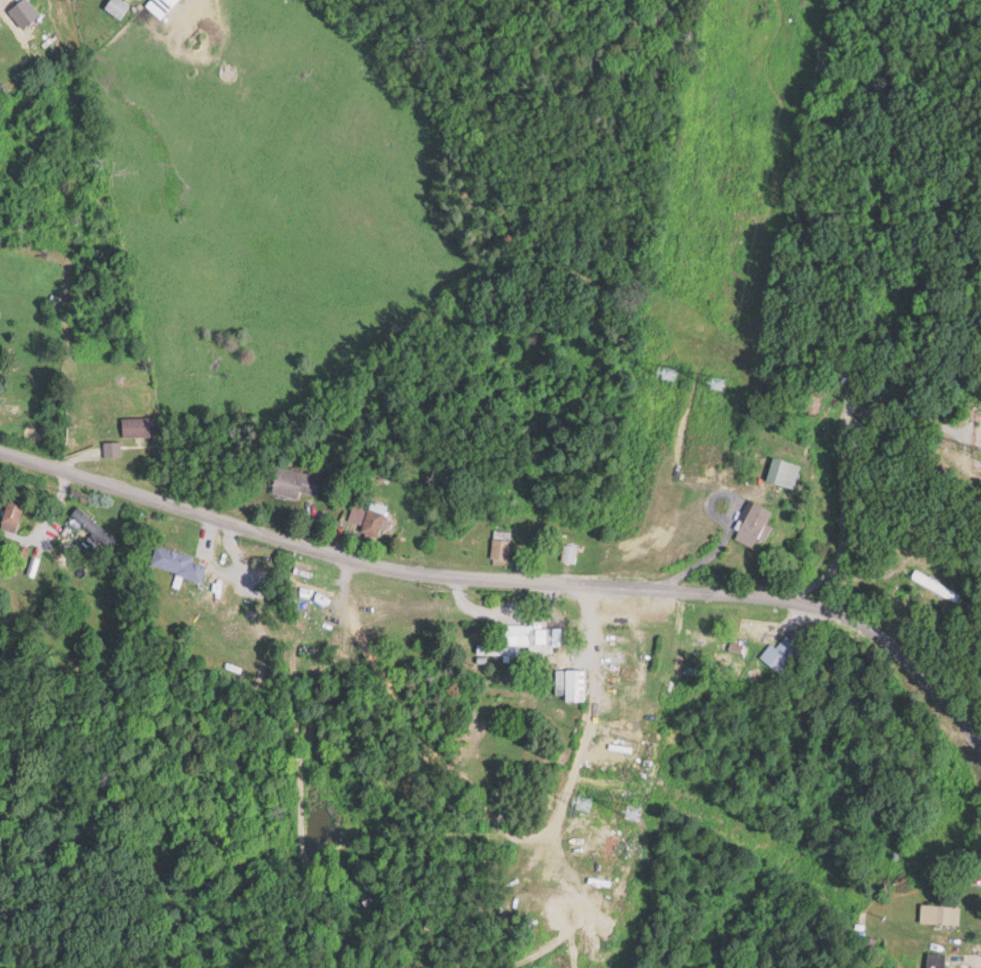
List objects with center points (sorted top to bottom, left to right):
building: (117, 7)
power tower: (674, 373)
power tower: (727, 390)
building: (137, 427)
building: (784, 473)
building: (295, 483)
building: (13, 512)
building: (365, 521)
building: (753, 525)
building: (93, 527)
building: (501, 547)
building: (569, 554)
building: (178, 562)
road: (511, 581)
building: (936, 586)
building: (544, 639)
building: (497, 649)
building: (783, 654)
building: (571, 680)
road: (409, 760)
power tower: (584, 804)
power tower: (639, 818)
building: (940, 914)
building: (936, 960)

